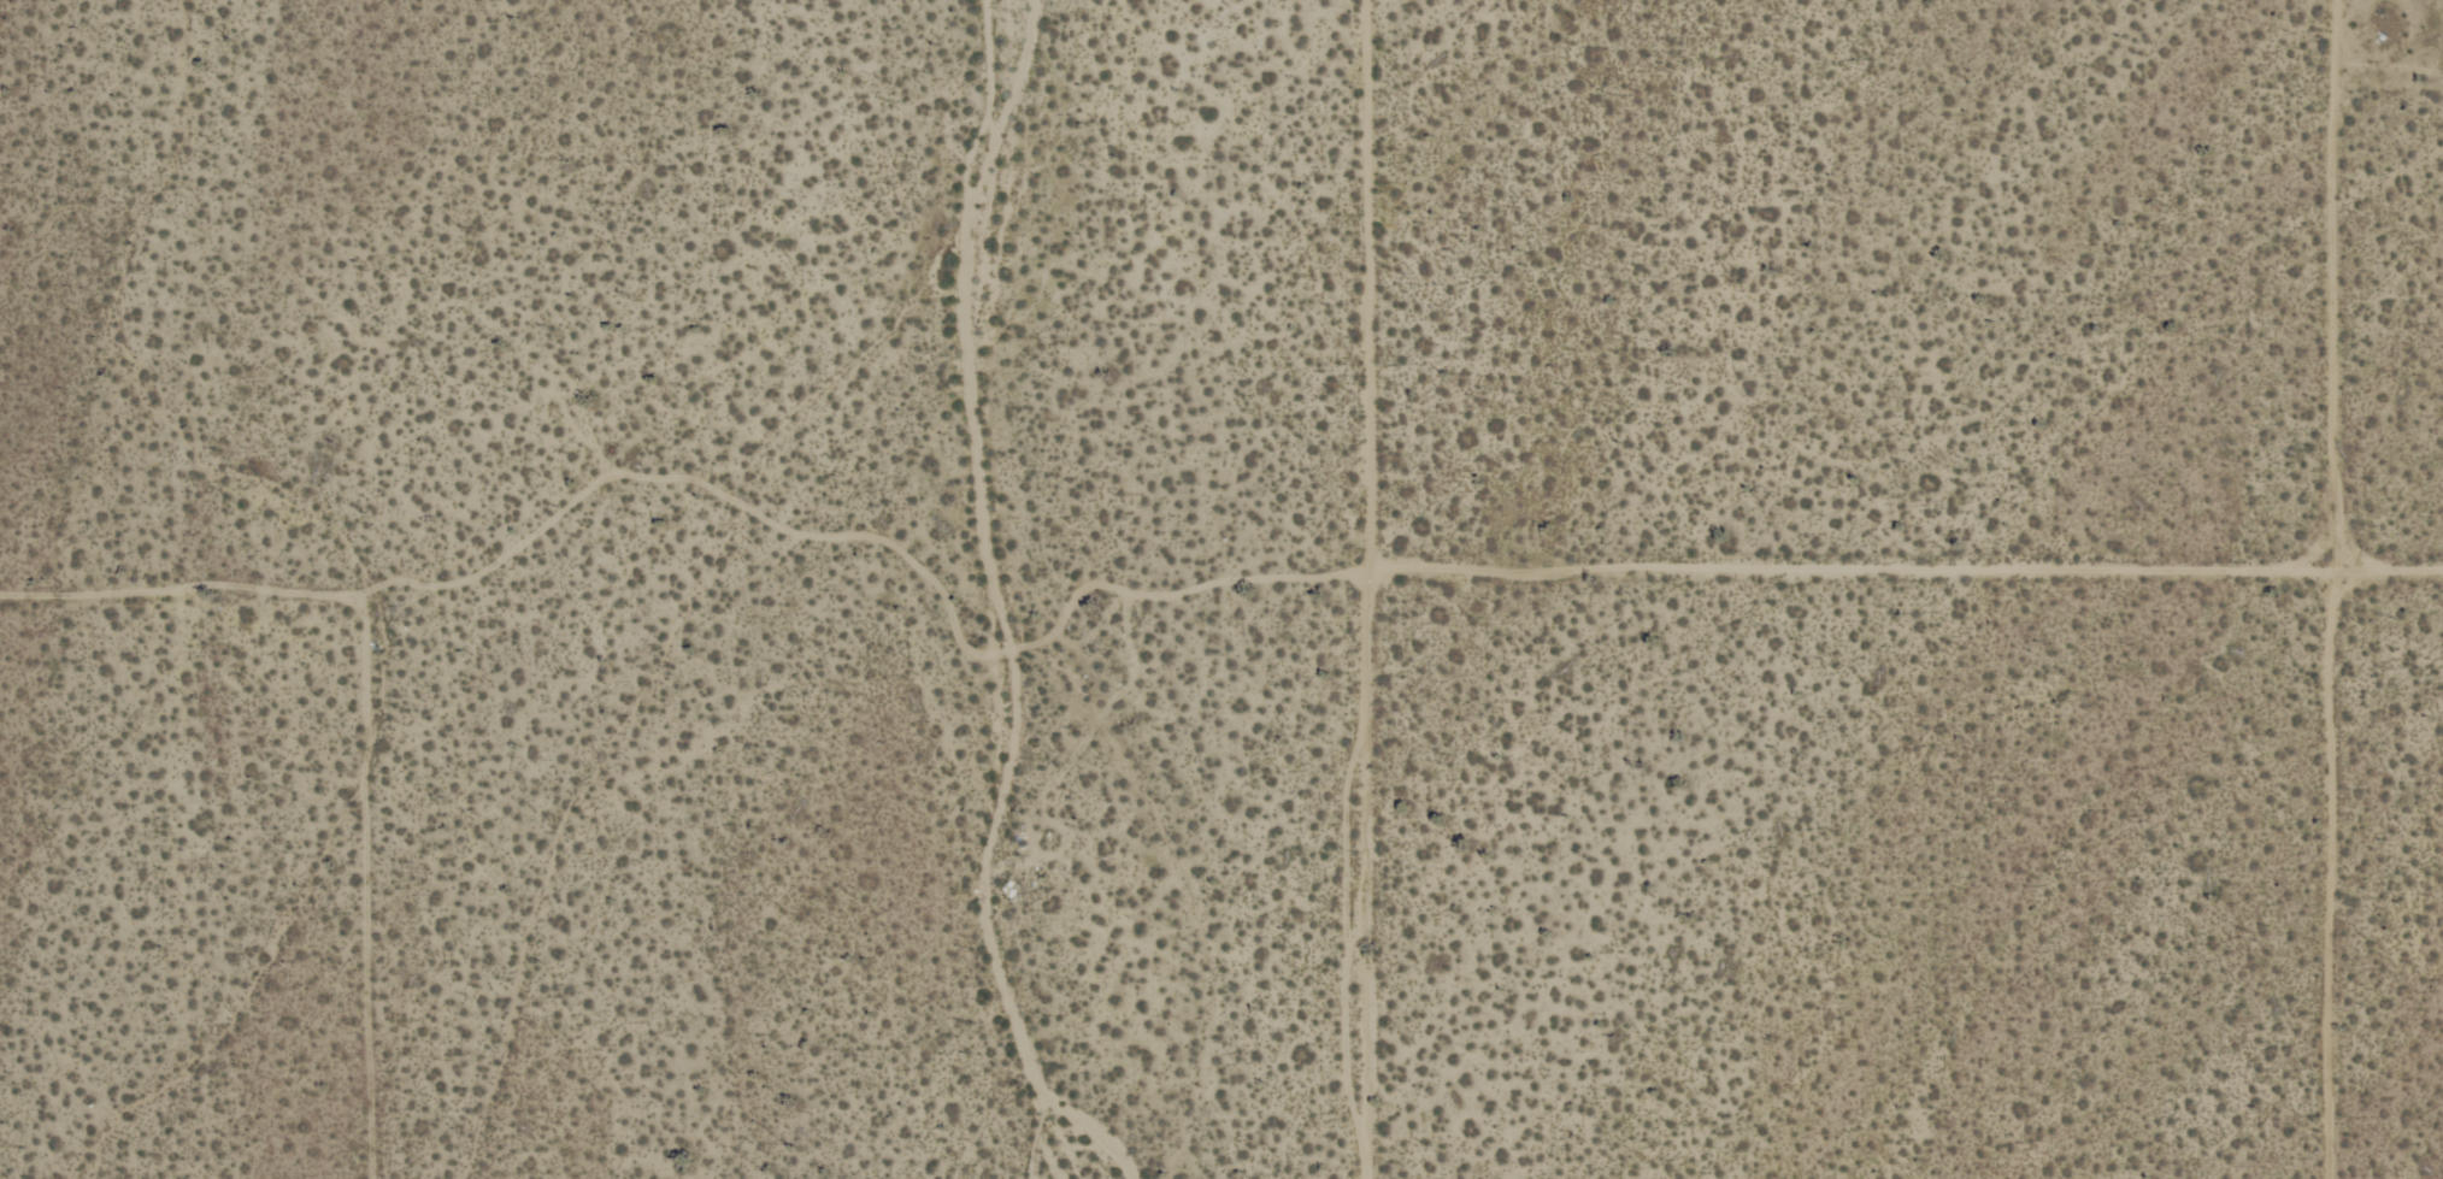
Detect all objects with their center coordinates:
road: (2388, 72)
road: (1905, 566)
road: (1367, 589)
road: (2336, 589)

